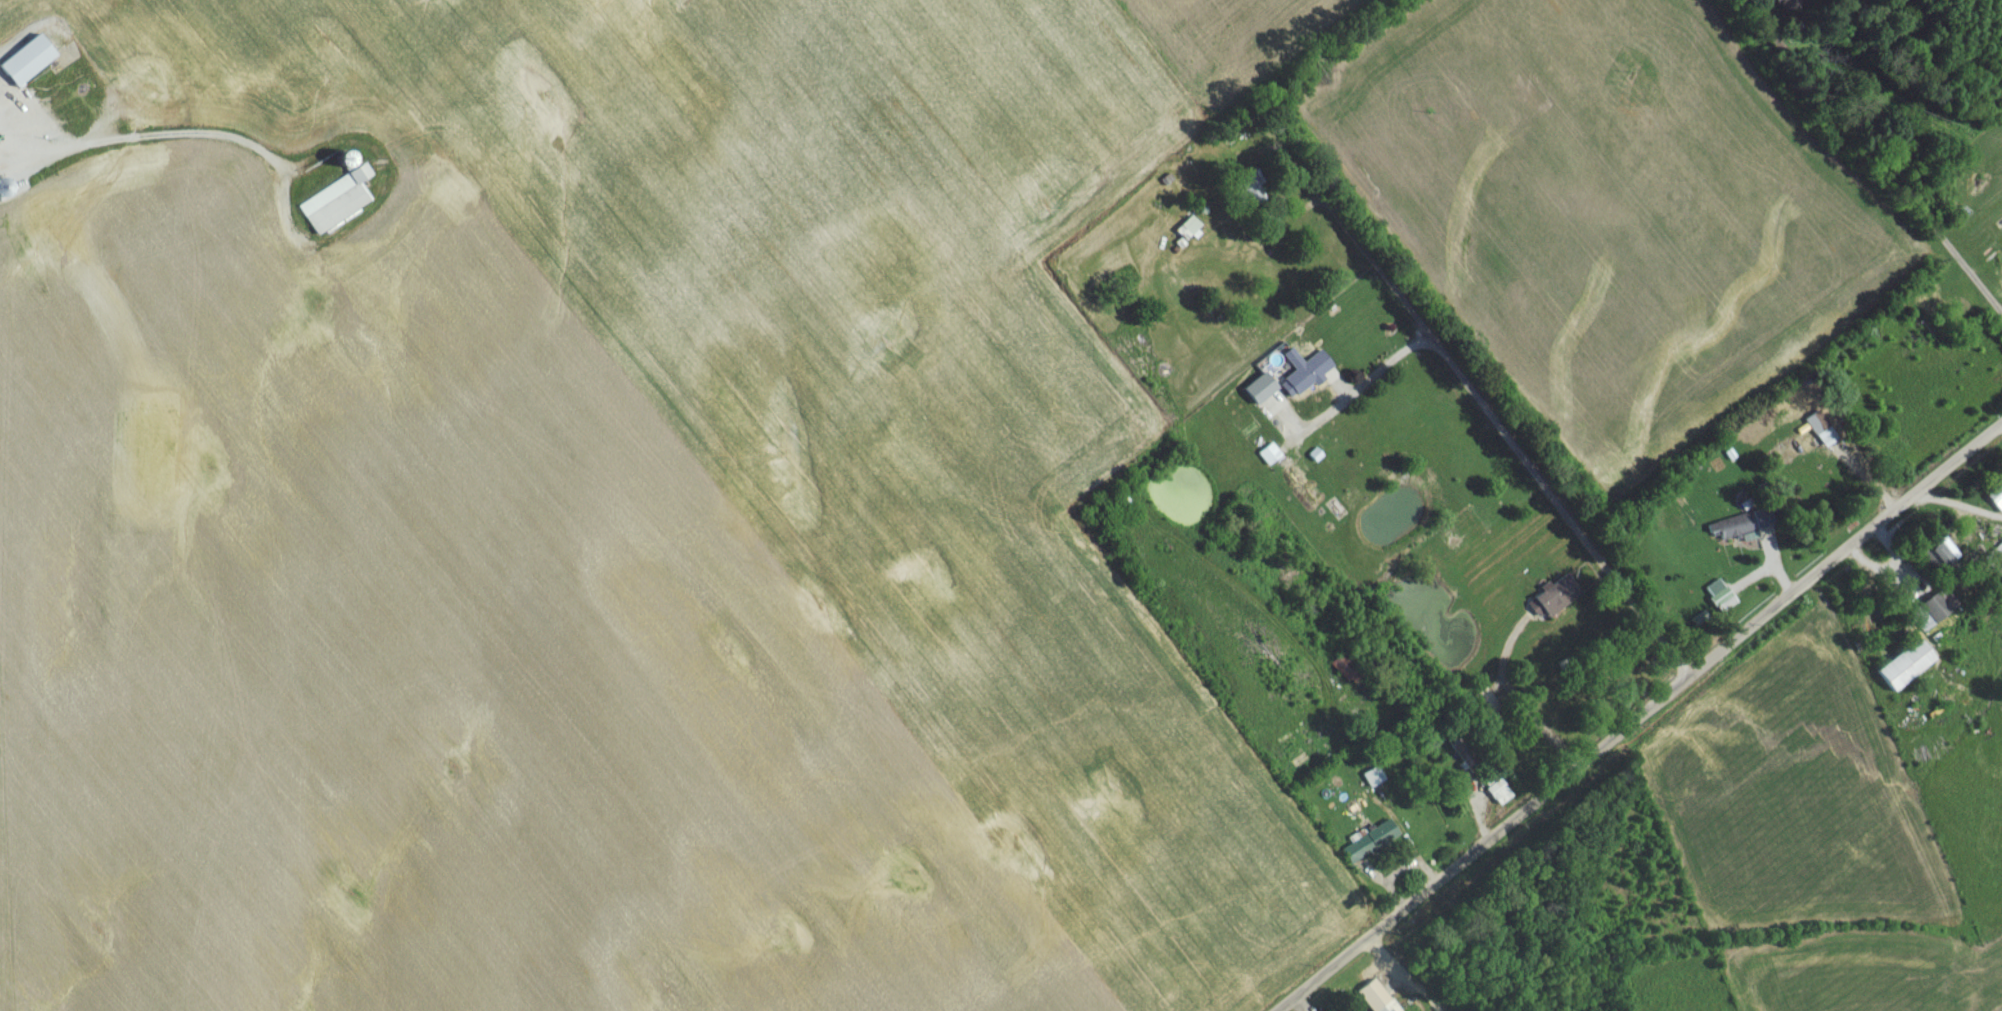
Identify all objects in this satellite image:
building: (24, 65)
road: (1904, 120)
road: (139, 136)
building: (1249, 192)
building: (1, 193)
building: (333, 205)
building: (1998, 229)
building: (1188, 230)
building: (1954, 314)
building: (1304, 376)
road: (1364, 382)
building: (1256, 393)
road: (1480, 408)
building: (1819, 434)
building: (1788, 456)
building: (1267, 459)
building: (1995, 499)
building: (1740, 530)
building: (1995, 567)
building: (1551, 602)
building: (1928, 616)
road: (1524, 704)
building: (1483, 709)
road: (1644, 721)
road: (462, 723)
building: (1461, 758)
building: (1367, 847)
road: (1407, 975)
building: (1372, 1000)

